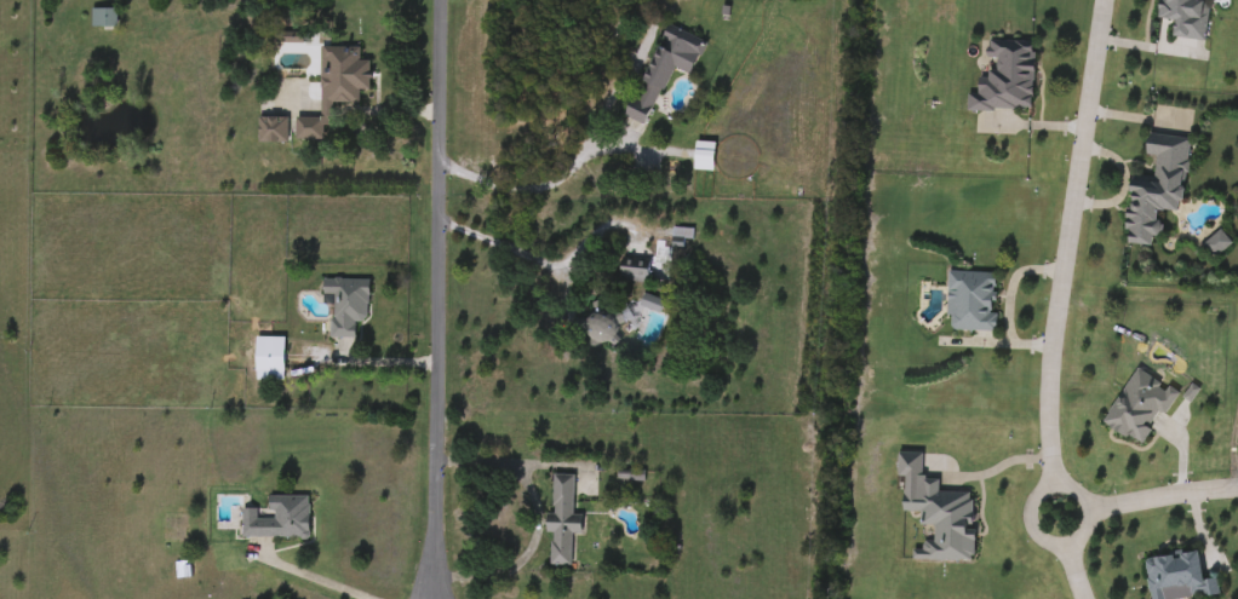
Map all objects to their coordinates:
building: (1182, 17)
building: (107, 19)
building: (661, 77)
building: (1002, 77)
building: (337, 90)
building: (275, 131)
building: (709, 157)
road: (560, 180)
building: (1152, 189)
road: (1066, 242)
road: (499, 244)
building: (1214, 244)
building: (637, 277)
road: (435, 299)
building: (969, 300)
building: (350, 307)
building: (604, 327)
building: (274, 359)
road: (373, 361)
building: (1136, 407)
road: (1160, 494)
road: (537, 513)
building: (281, 519)
building: (947, 523)
building: (567, 524)
road: (1062, 543)
road: (1076, 571)
building: (1175, 578)
road: (303, 582)

